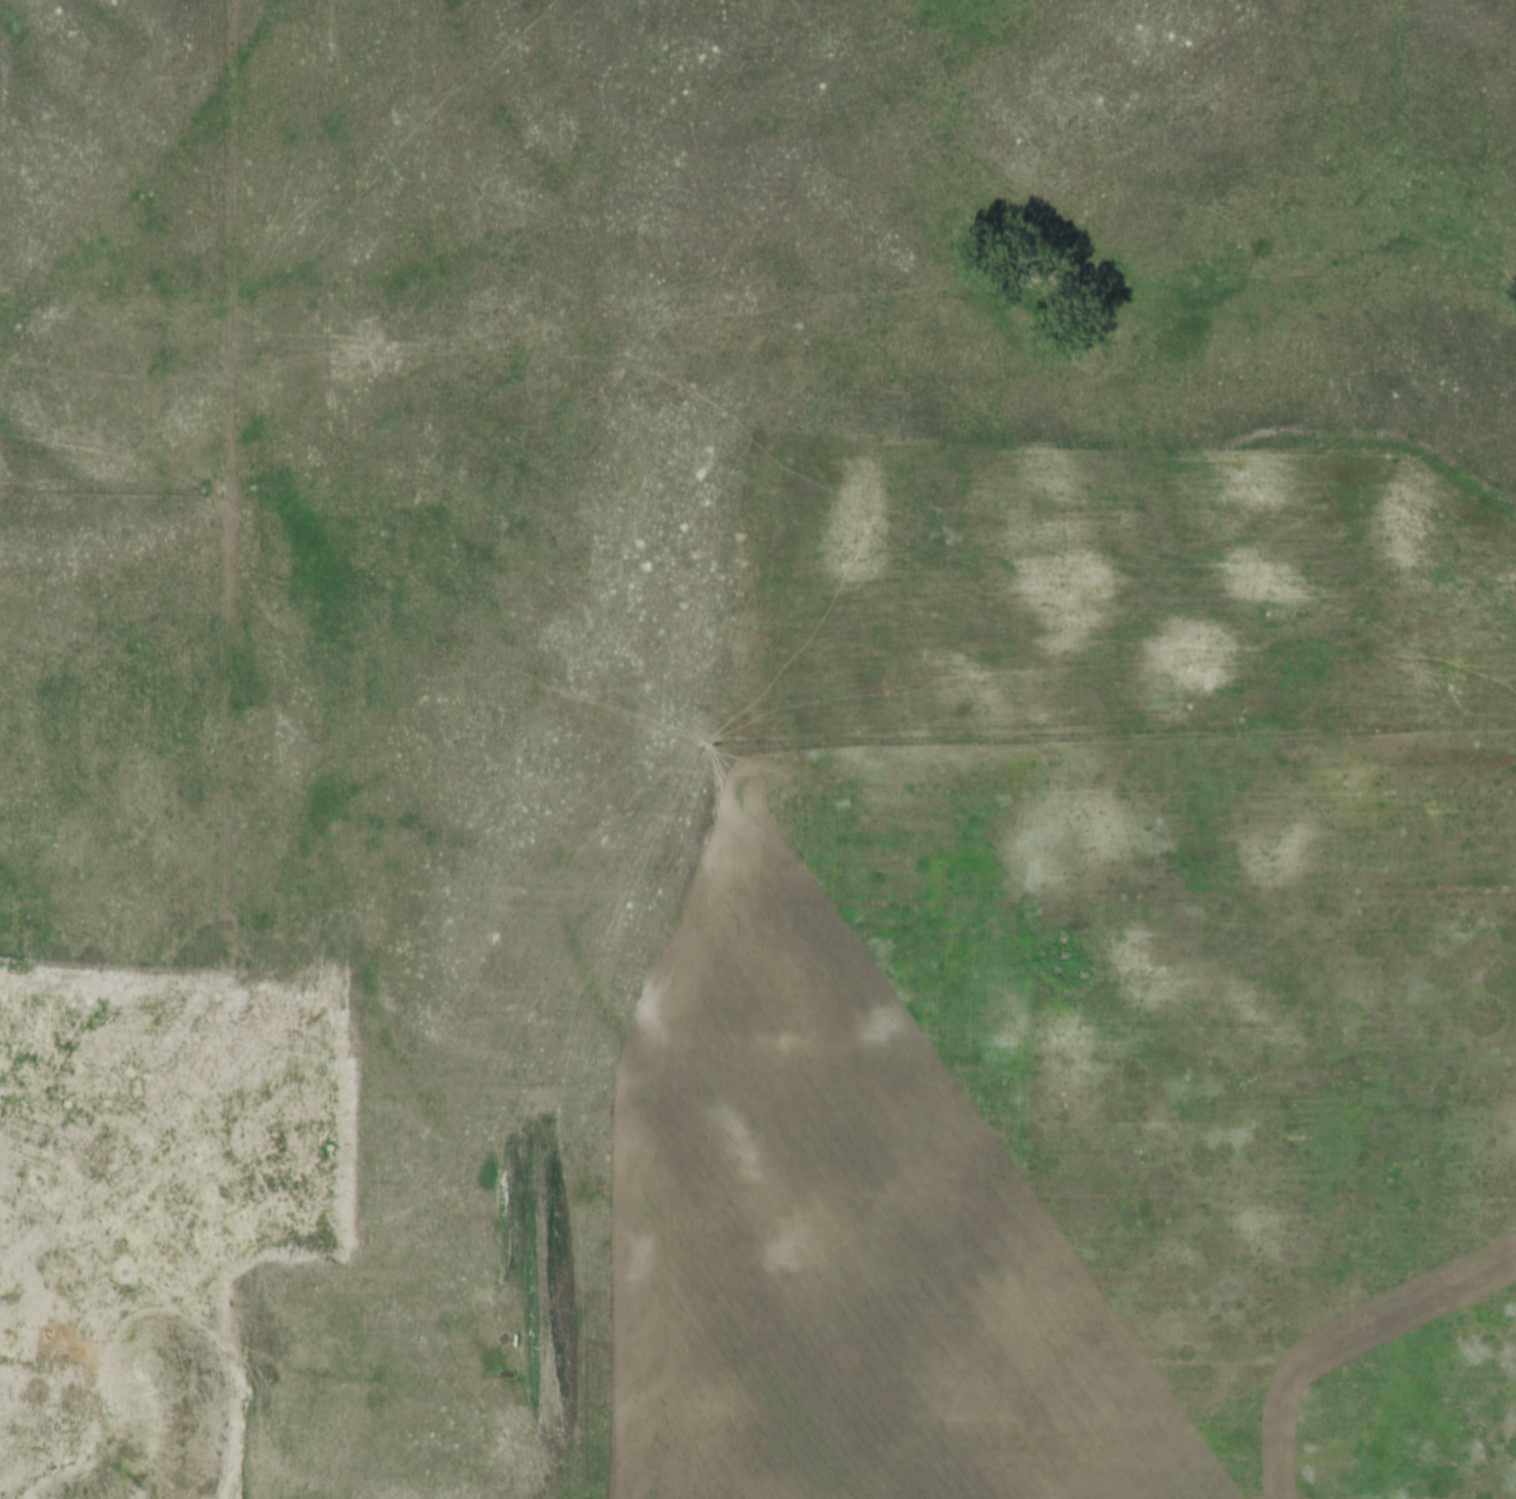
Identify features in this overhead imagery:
road: (228, 749)

